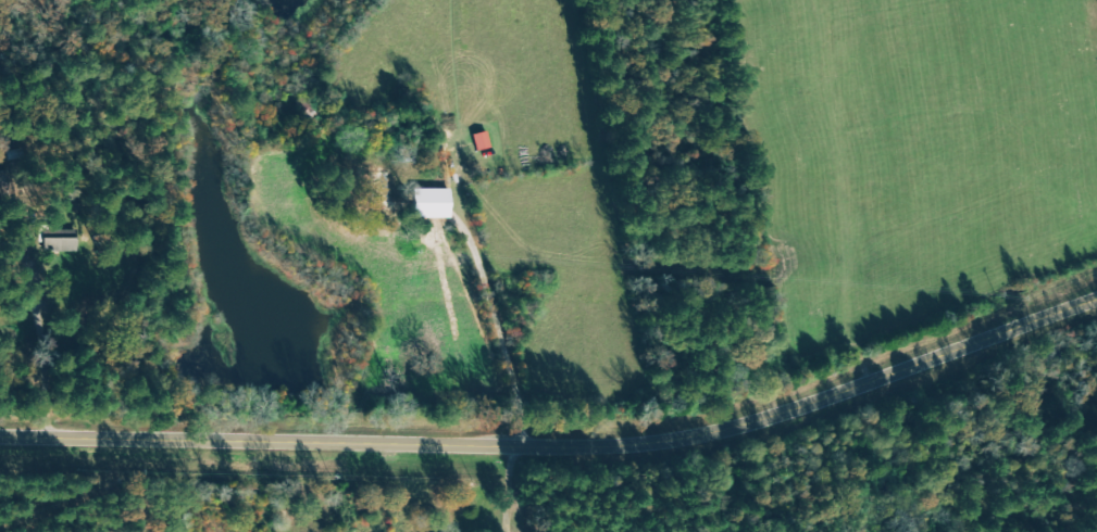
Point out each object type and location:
building: (388, 195)
building: (64, 239)
road: (491, 299)
road: (560, 443)
road: (509, 486)

